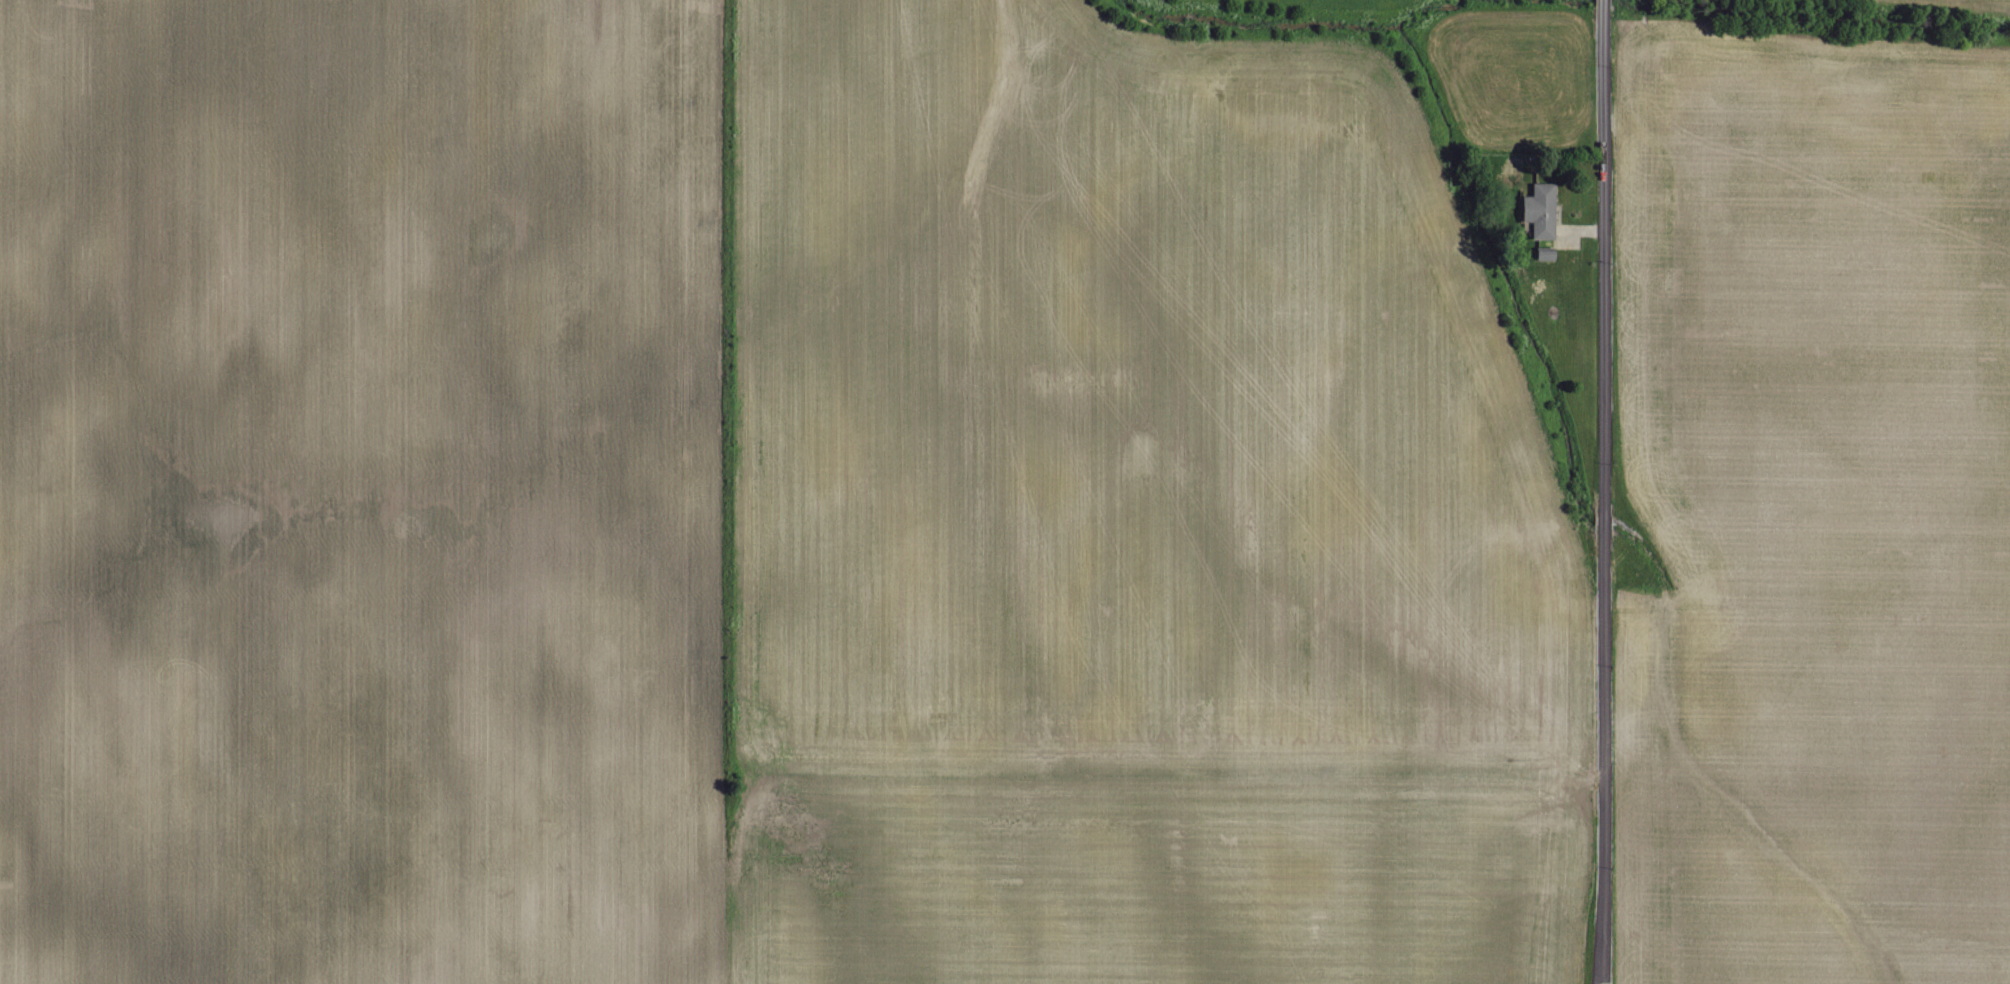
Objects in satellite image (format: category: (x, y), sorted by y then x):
road: (1602, 1)
building: (1544, 211)
road: (1602, 493)

